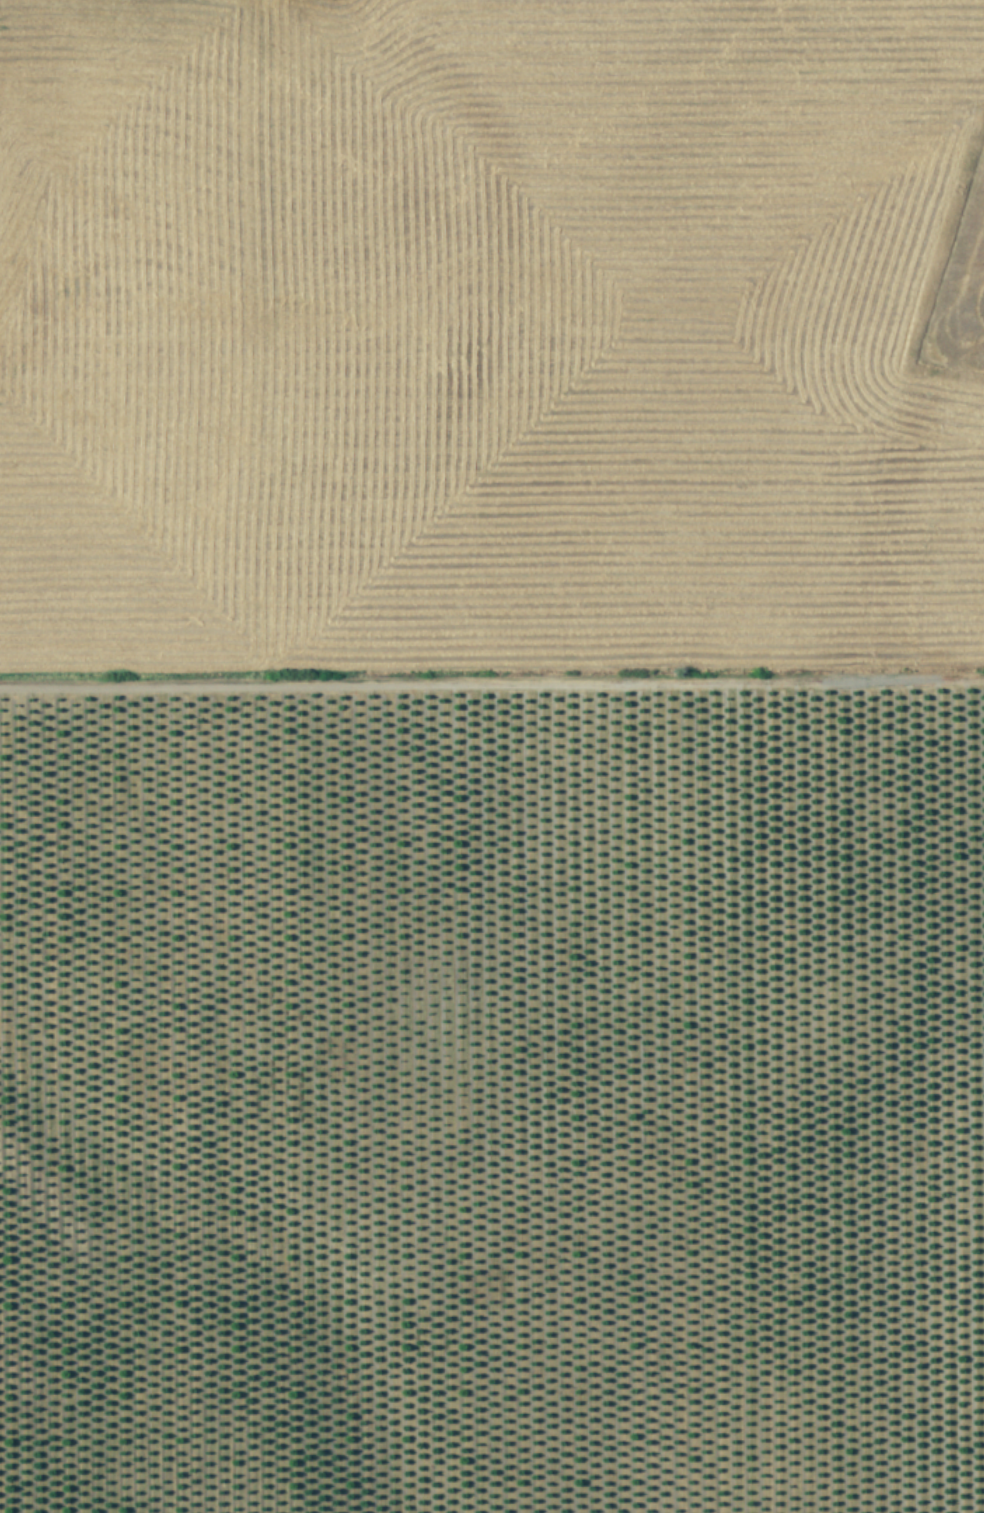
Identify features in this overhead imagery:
crop: (492, 756)

